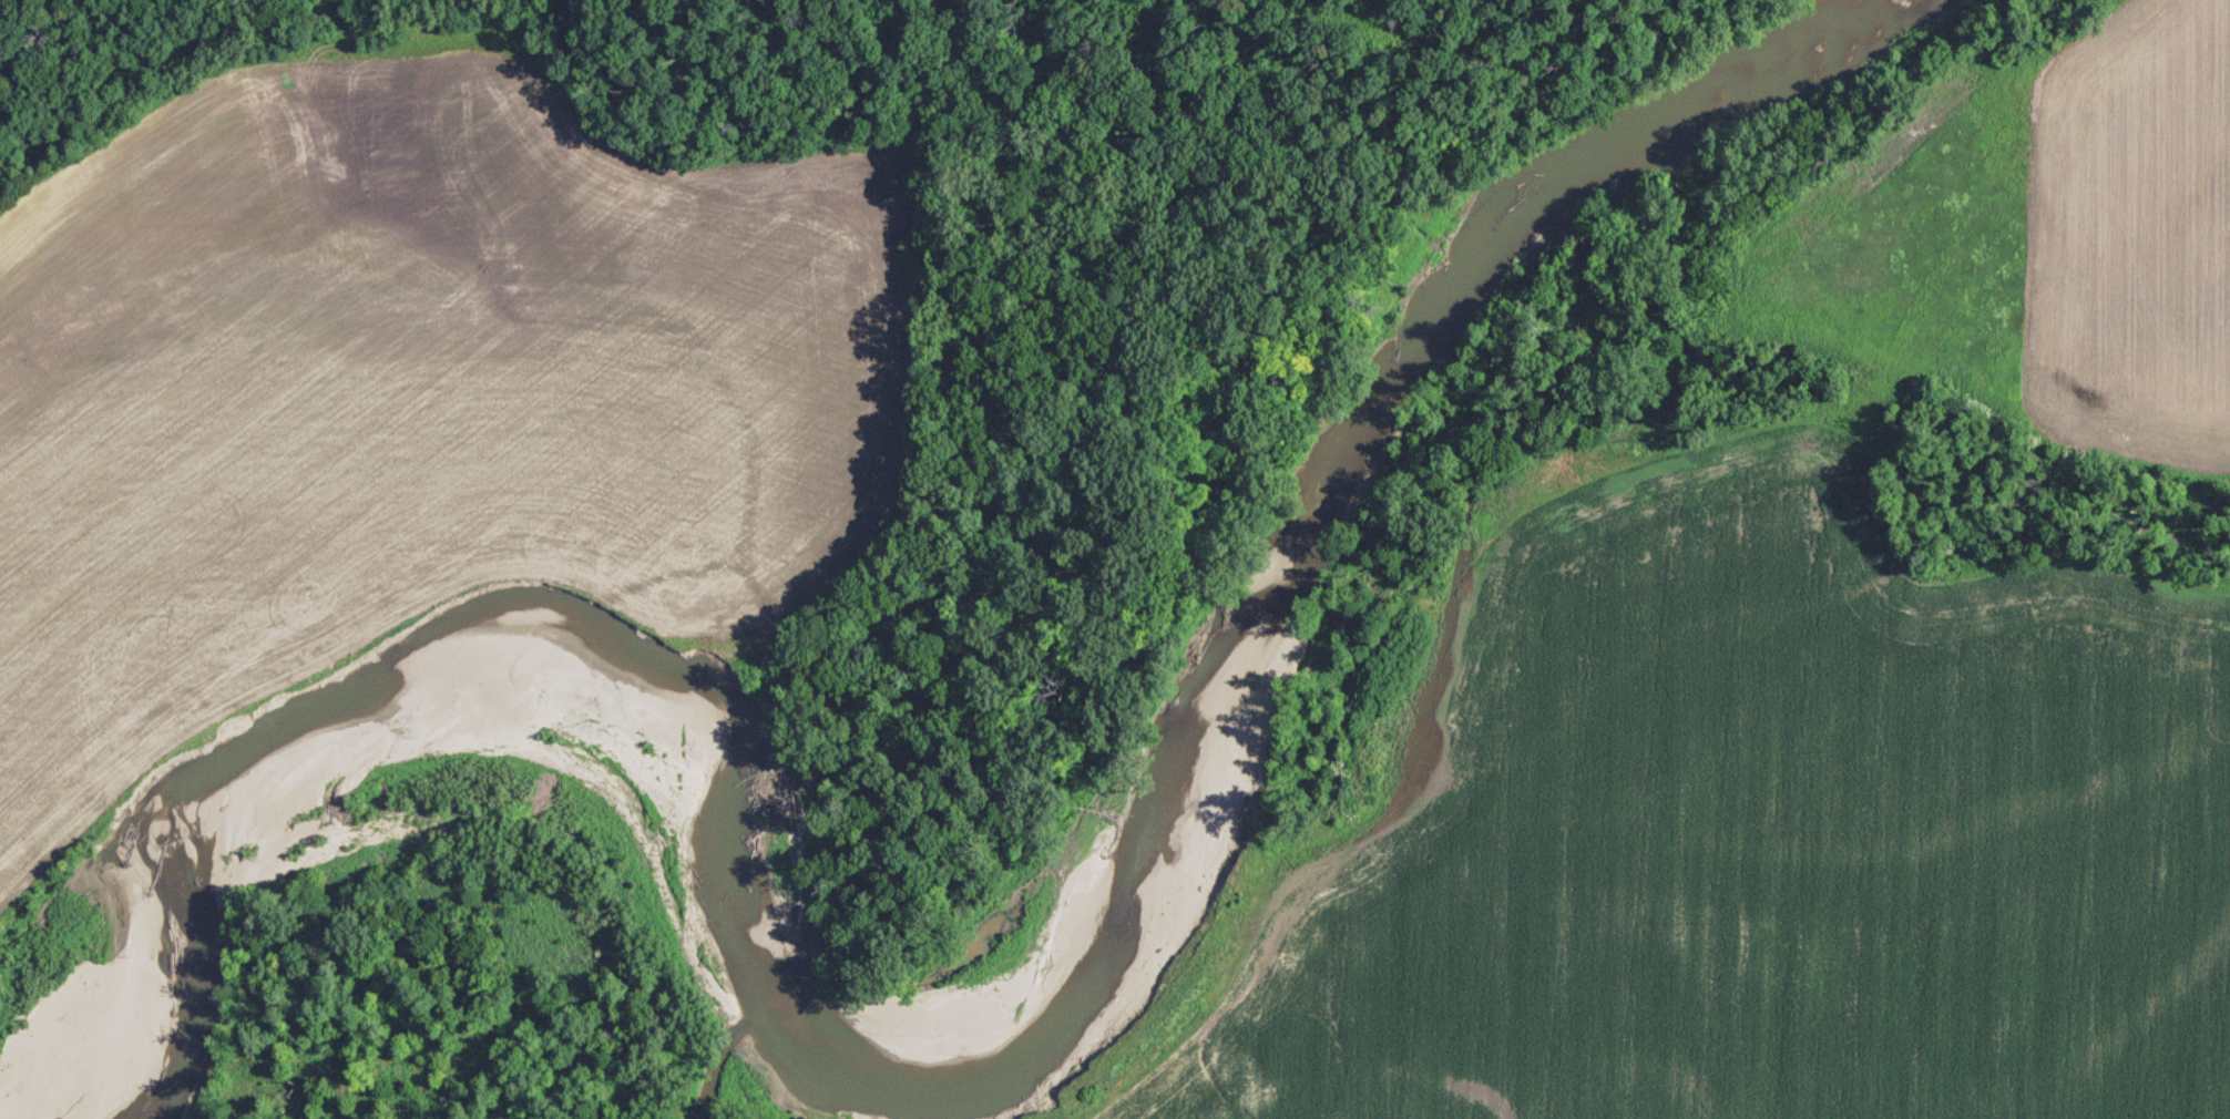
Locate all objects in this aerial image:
river: (1086, 994)

